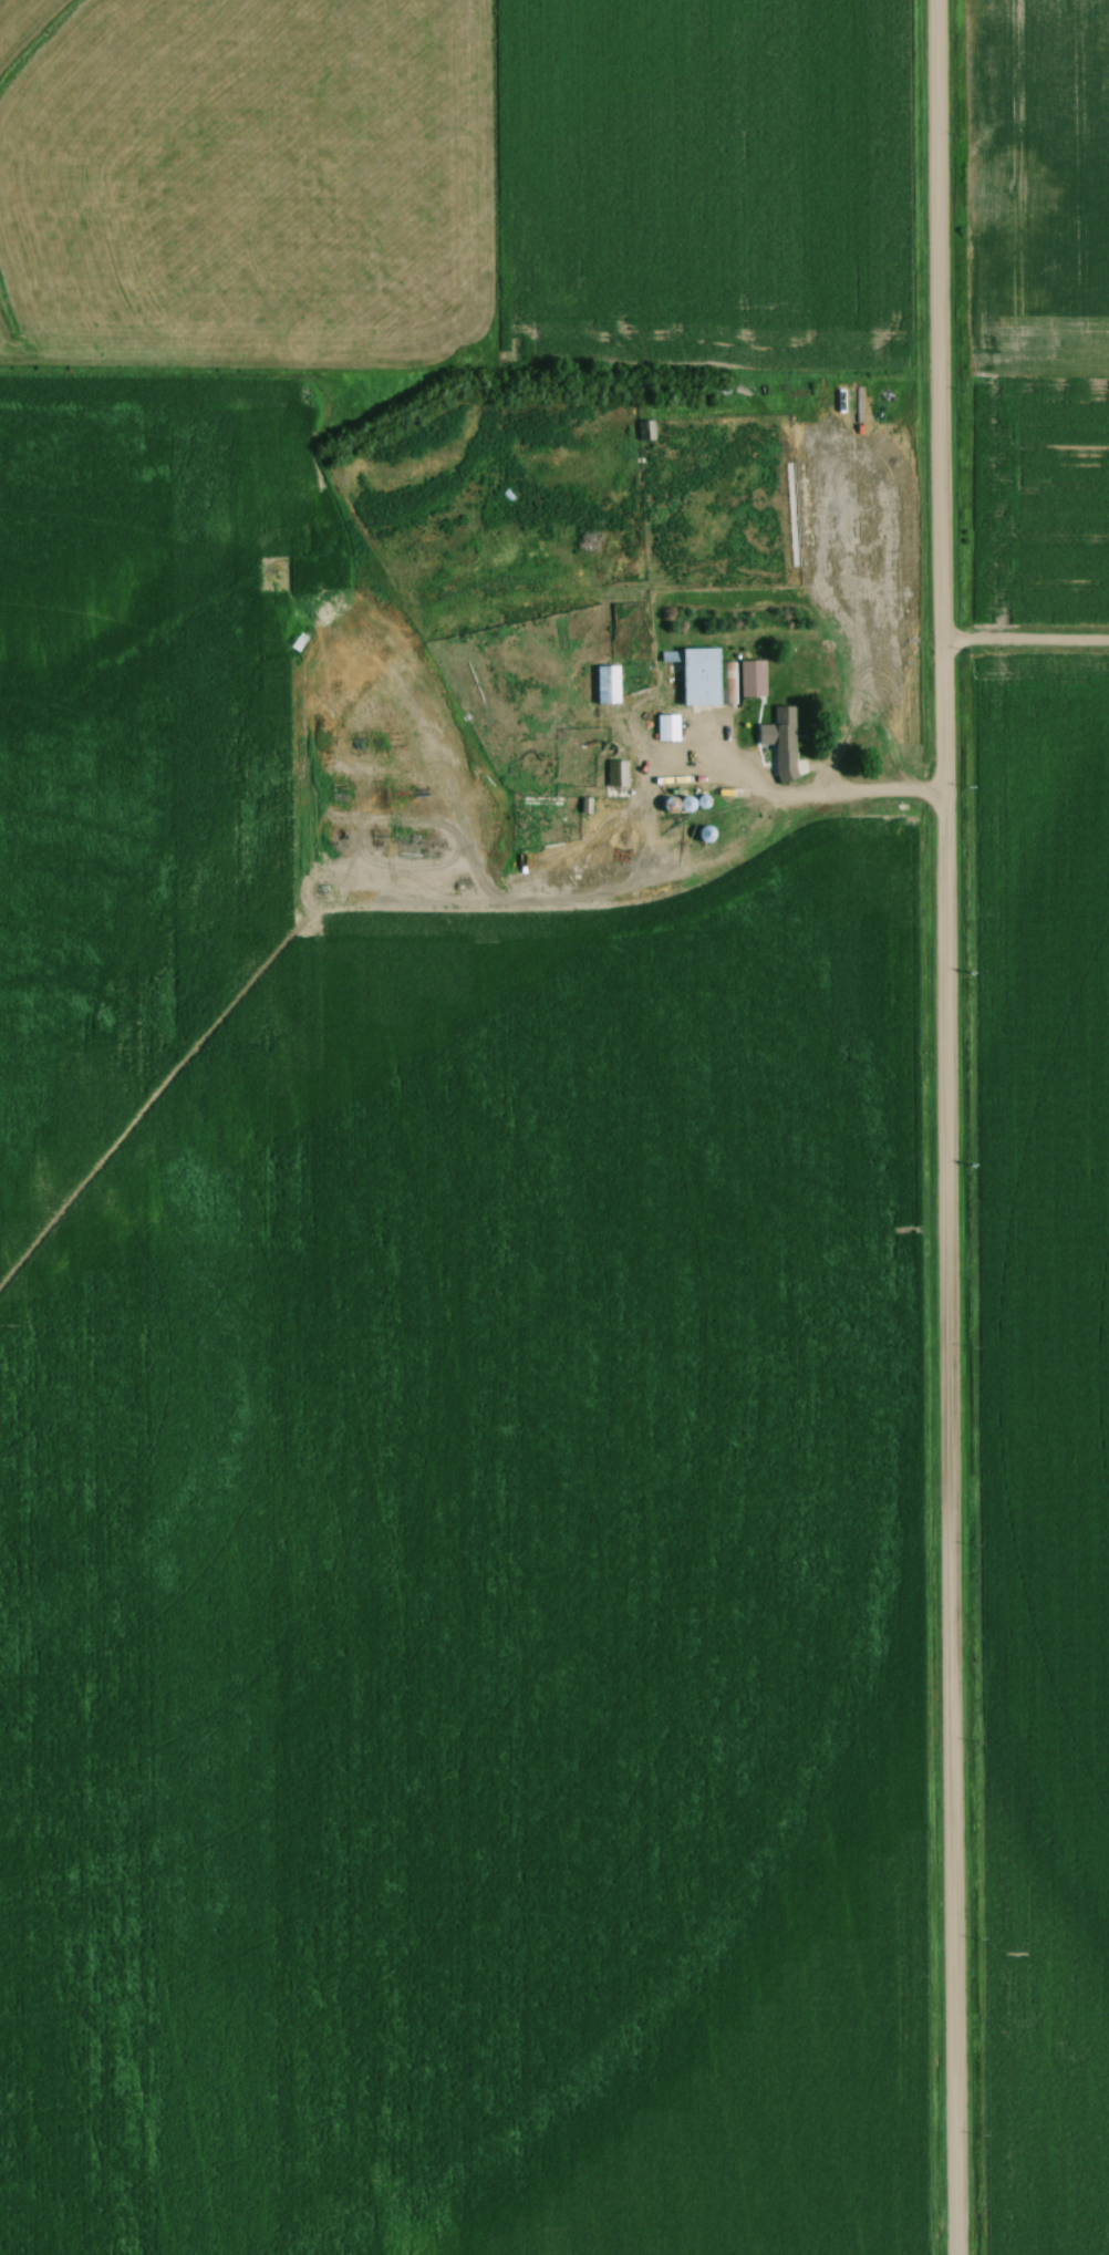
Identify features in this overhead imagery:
building: (646, 428)
road: (1022, 646)
building: (702, 675)
building: (753, 677)
building: (608, 684)
building: (667, 727)
building: (784, 744)
building: (616, 773)
road: (825, 799)
road: (940, 1127)

